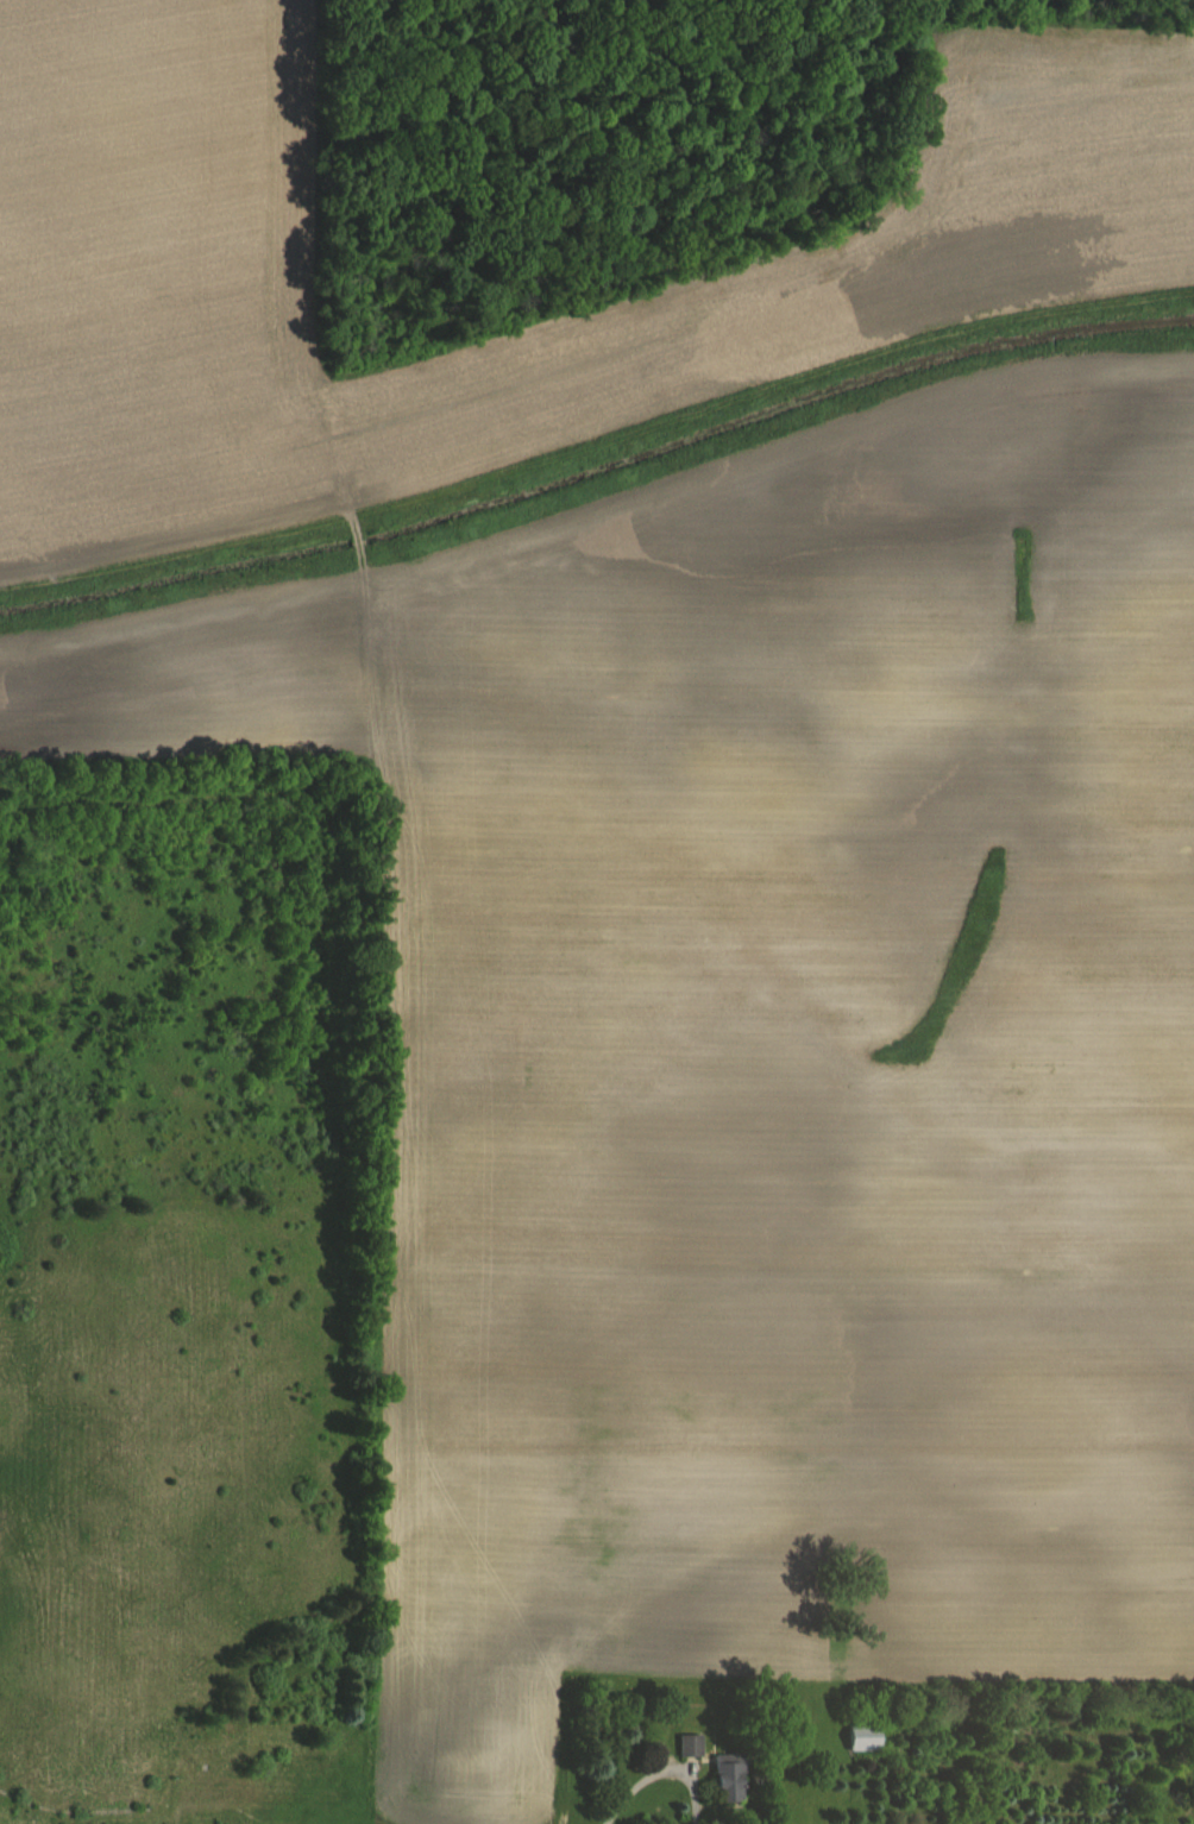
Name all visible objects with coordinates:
building: (865, 1738)
building: (692, 1747)
building: (734, 1779)

